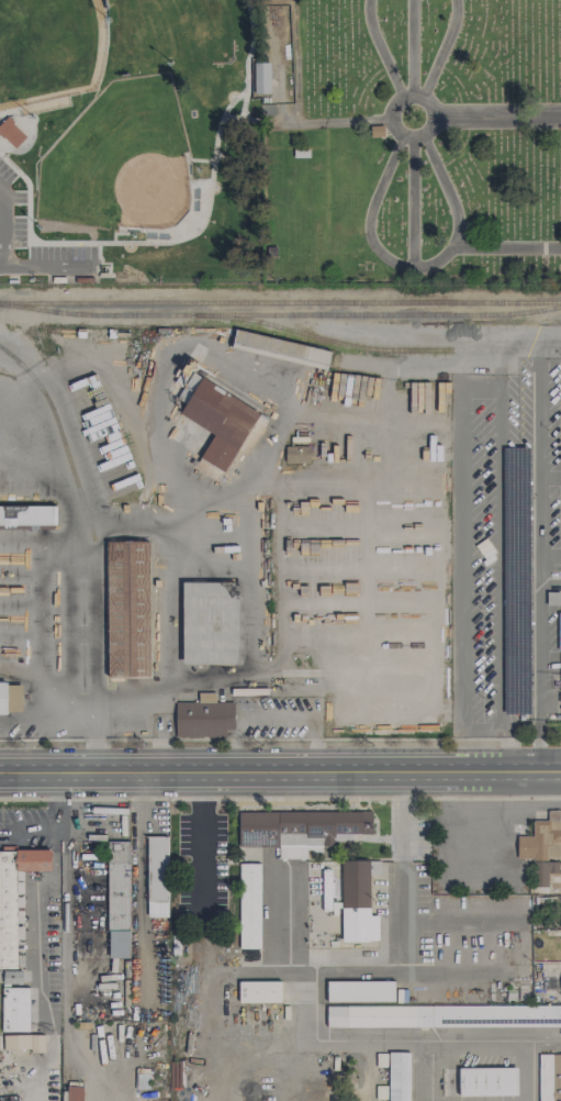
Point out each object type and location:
road: (411, 46)
road: (441, 48)
road: (380, 49)
building: (261, 77)
road: (417, 93)
road: (243, 103)
road: (497, 114)
road: (240, 116)
road: (328, 120)
building: (11, 132)
park: (130, 141)
park: (409, 141)
road: (446, 189)
road: (412, 203)
road: (1, 229)
road: (186, 236)
road: (48, 265)
road: (407, 266)
railway: (280, 302)
railway: (280, 315)
road: (517, 336)
road: (549, 336)
railway: (319, 337)
building: (280, 349)
building: (217, 423)
railway: (60, 435)
building: (301, 454)
road: (549, 480)
building: (27, 515)
road: (538, 552)
road: (501, 553)
road: (549, 555)
road: (459, 560)
building: (127, 609)
building: (211, 622)
building: (560, 638)
building: (10, 698)
building: (203, 718)
road: (277, 718)
road: (280, 739)
road: (554, 767)
road: (550, 772)
road: (280, 774)
road: (280, 798)
building: (300, 830)
road: (204, 839)
building: (542, 846)
building: (157, 876)
building: (117, 886)
building: (14, 897)
building: (357, 902)
building: (249, 905)
road: (395, 959)
building: (259, 991)
building: (360, 991)
building: (15, 1009)
building: (444, 1015)
building: (23, 1042)
road: (534, 1058)
building: (399, 1076)
building: (550, 1077)
building: (487, 1081)
building: (74, 1093)

